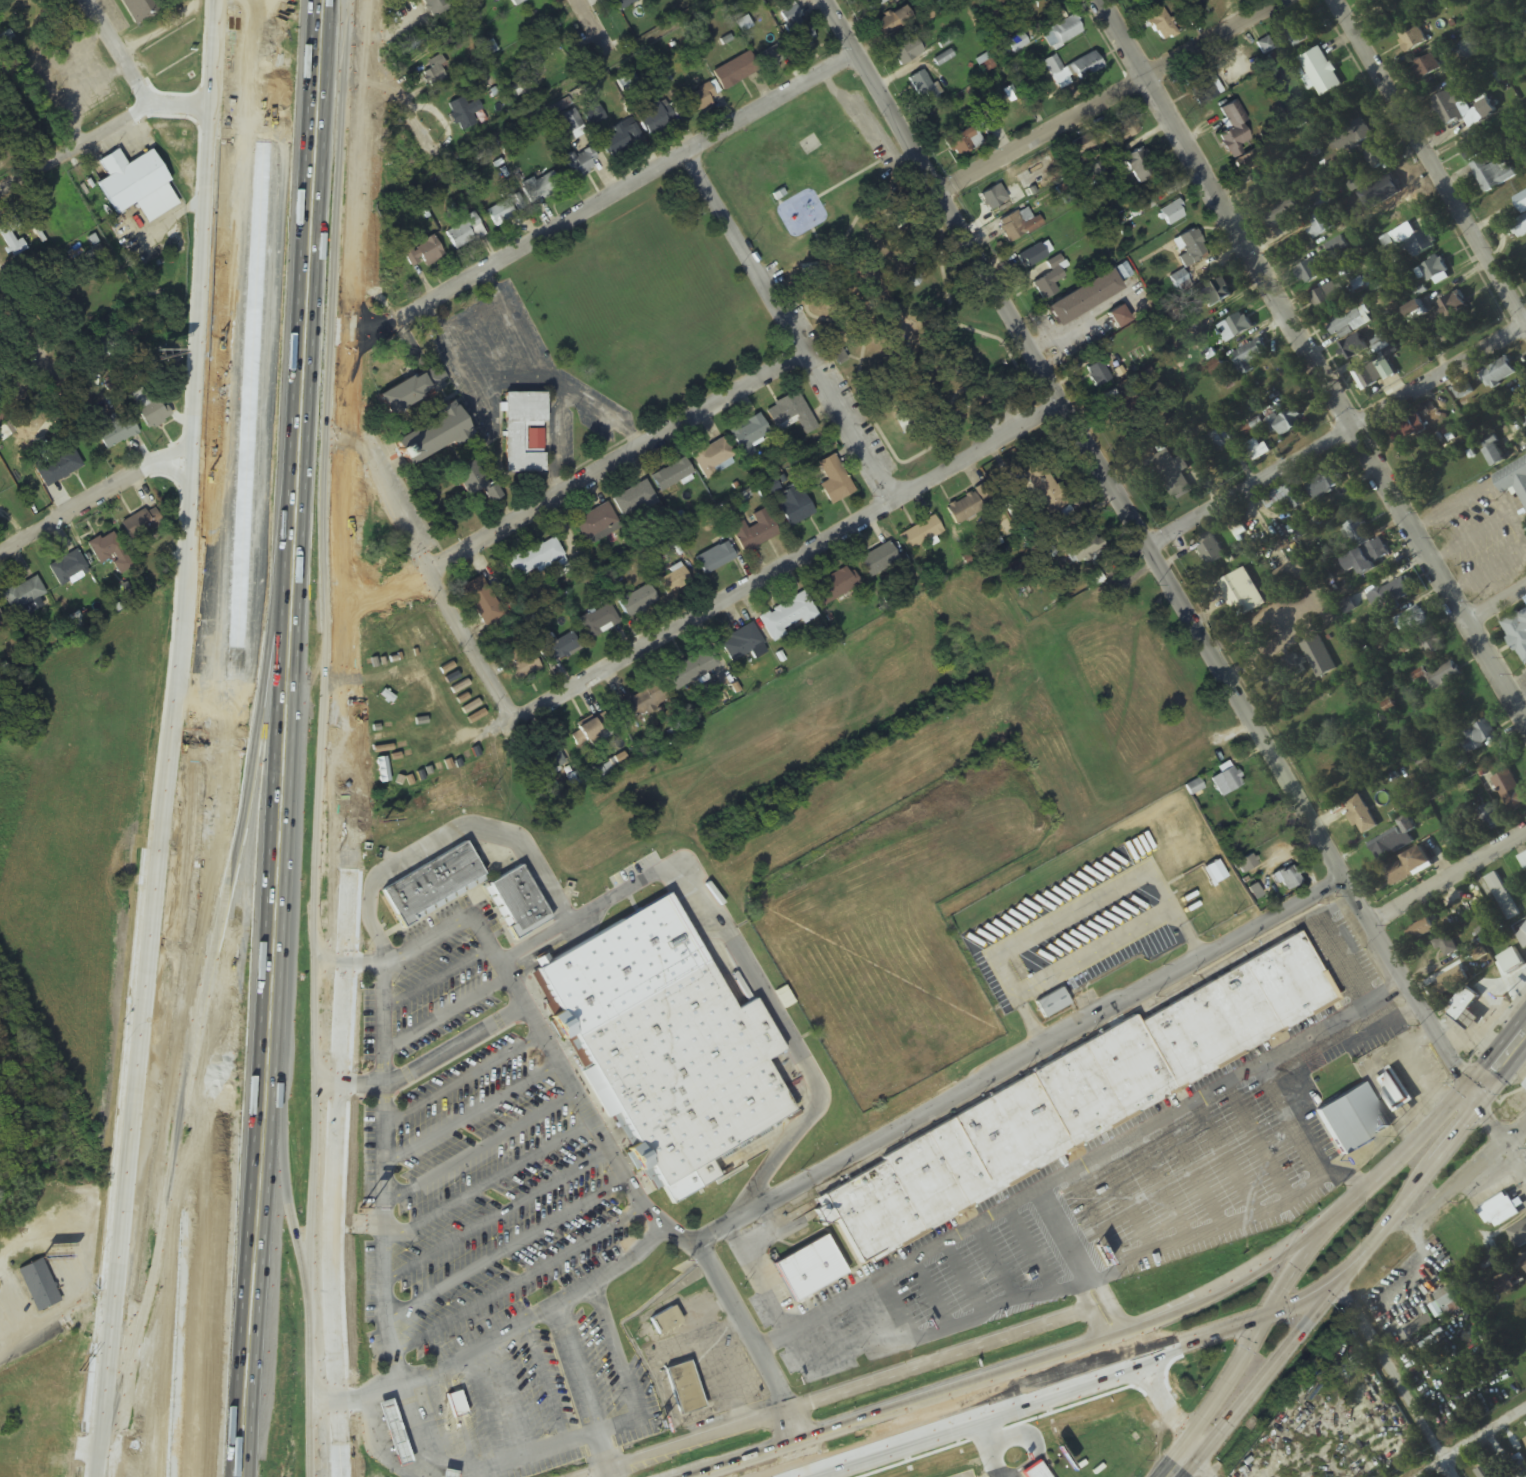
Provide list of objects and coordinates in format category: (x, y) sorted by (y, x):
building: (1373, 0)
building: (1443, 1)
building: (517, 2)
building: (623, 4)
building: (873, 5)
building: (435, 6)
building: (139, 9)
road: (263, 14)
building: (1193, 17)
road: (597, 20)
building: (890, 23)
building: (794, 25)
building: (1161, 26)
building: (1297, 31)
building: (1061, 33)
building: (5, 39)
building: (1413, 40)
building: (419, 42)
building: (1017, 43)
building: (906, 51)
road: (118, 52)
building: (1456, 52)
building: (770, 58)
building: (1085, 66)
building: (1428, 67)
building: (435, 72)
building: (551, 72)
building: (735, 72)
building: (1057, 72)
building: (1321, 72)
building: (627, 85)
road: (399, 86)
building: (1202, 86)
building: (923, 87)
road: (1109, 97)
building: (699, 100)
building: (1462, 110)
building: (461, 114)
building: (594, 116)
building: (569, 118)
building: (654, 118)
building: (1233, 129)
road: (100, 134)
building: (1351, 136)
building: (622, 137)
building: (965, 140)
building: (809, 146)
building: (1468, 151)
building: (1377, 158)
building: (0, 161)
building: (582, 163)
building: (1248, 163)
road: (1427, 165)
building: (1135, 166)
building: (1036, 174)
building: (1097, 174)
building: (1495, 176)
building: (136, 186)
building: (541, 187)
road: (602, 197)
building: (993, 198)
building: (1322, 202)
building: (1522, 203)
building: (505, 211)
building: (1171, 214)
building: (1282, 214)
building: (1018, 226)
building: (1320, 226)
building: (464, 233)
building: (11, 235)
building: (1420, 244)
building: (1191, 247)
building: (421, 253)
building: (1032, 257)
building: (1431, 271)
building: (383, 273)
building: (1309, 273)
park: (873, 277)
building: (1050, 280)
road: (490, 283)
building: (1215, 294)
building: (1325, 297)
building: (1083, 298)
building: (1452, 310)
road: (470, 315)
road: (433, 316)
building: (1118, 317)
building: (1351, 322)
road: (790, 323)
building: (1237, 326)
road: (26, 330)
road: (521, 337)
road: (490, 348)
building: (1353, 348)
building: (1249, 356)
road: (1312, 360)
building: (2, 372)
building: (1498, 373)
building: (1098, 374)
building: (1370, 374)
road: (477, 385)
road: (281, 389)
building: (412, 390)
road: (237, 392)
road: (594, 409)
building: (149, 411)
building: (791, 414)
building: (904, 422)
building: (1285, 424)
building: (1407, 429)
building: (520, 432)
building: (114, 433)
building: (748, 435)
building: (429, 436)
road: (1340, 437)
road: (560, 441)
building: (1217, 443)
building: (1257, 450)
building: (1495, 456)
road: (619, 457)
building: (713, 457)
building: (56, 466)
building: (671, 476)
building: (1175, 477)
building: (1037, 479)
building: (1513, 479)
building: (834, 481)
building: (472, 482)
building: (1326, 484)
road: (96, 493)
building: (633, 498)
building: (1285, 498)
building: (793, 506)
building: (963, 509)
building: (594, 522)
building: (138, 527)
building: (754, 532)
building: (1356, 534)
building: (920, 535)
building: (1082, 547)
building: (1043, 549)
building: (1210, 550)
building: (110, 553)
building: (535, 558)
road: (787, 558)
building: (1368, 558)
building: (714, 559)
road: (431, 560)
building: (878, 561)
building: (67, 568)
building: (1293, 571)
building: (673, 581)
building: (834, 587)
road: (1174, 587)
road: (183, 589)
building: (23, 594)
building: (1242, 594)
building: (1391, 595)
building: (482, 602)
building: (637, 602)
road: (1498, 606)
building: (787, 617)
building: (0, 618)
building: (1411, 621)
building: (599, 622)
building: (1517, 635)
building: (1431, 643)
building: (741, 644)
building: (560, 647)
building: (1319, 657)
building: (522, 666)
building: (691, 669)
building: (1283, 672)
building: (1445, 675)
road: (349, 701)
building: (641, 703)
building: (590, 730)
road: (238, 736)
building: (1480, 737)
road: (219, 752)
building: (1226, 782)
building: (1511, 792)
road: (186, 812)
building: (1360, 815)
building: (1487, 819)
building: (1396, 840)
building: (1523, 861)
building: (1245, 867)
building: (1400, 872)
road: (661, 875)
road: (1448, 877)
building: (1287, 879)
building: (432, 881)
building: (1205, 891)
road: (315, 896)
building: (1502, 897)
building: (517, 899)
road: (461, 931)
building: (1419, 931)
building: (1446, 947)
road: (518, 956)
building: (1511, 962)
road: (446, 979)
building: (1451, 981)
building: (1051, 1004)
building: (1463, 1005)
road: (453, 1016)
road: (538, 1024)
building: (676, 1046)
road: (1021, 1062)
road: (1500, 1064)
road: (392, 1066)
road: (470, 1080)
building: (1524, 1082)
building: (1394, 1090)
building: (1073, 1095)
traffic signals: (1474, 1097)
road: (479, 1116)
building: (1351, 1120)
road: (488, 1150)
road: (1460, 1182)
road: (496, 1183)
road: (1412, 1192)
building: (1500, 1212)
road: (507, 1219)
building: (1518, 1236)
road: (941, 1245)
road: (514, 1253)
building: (1524, 1265)
building: (802, 1266)
traffic signals: (1337, 1279)
road: (523, 1286)
building: (38, 1287)
road: (1106, 1302)
building: (1443, 1305)
road: (396, 1307)
road: (1092, 1309)
road: (116, 1315)
traffic signals: (1265, 1316)
building: (665, 1322)
road: (742, 1326)
road: (1104, 1338)
road: (1251, 1340)
road: (1393, 1378)
road: (560, 1379)
road: (1264, 1380)
road: (1076, 1383)
building: (688, 1387)
road: (525, 1394)
road: (1159, 1396)
road: (646, 1398)
building: (456, 1405)
road: (493, 1407)
building: (469, 1411)
road: (471, 1414)
building: (398, 1432)
gas station: (398, 1432)
road: (337, 1440)
road: (801, 1441)
road: (1473, 1444)
road: (528, 1457)
road: (103, 1465)
road: (1205, 1468)
building: (1031, 1471)
building: (1486, 1472)

